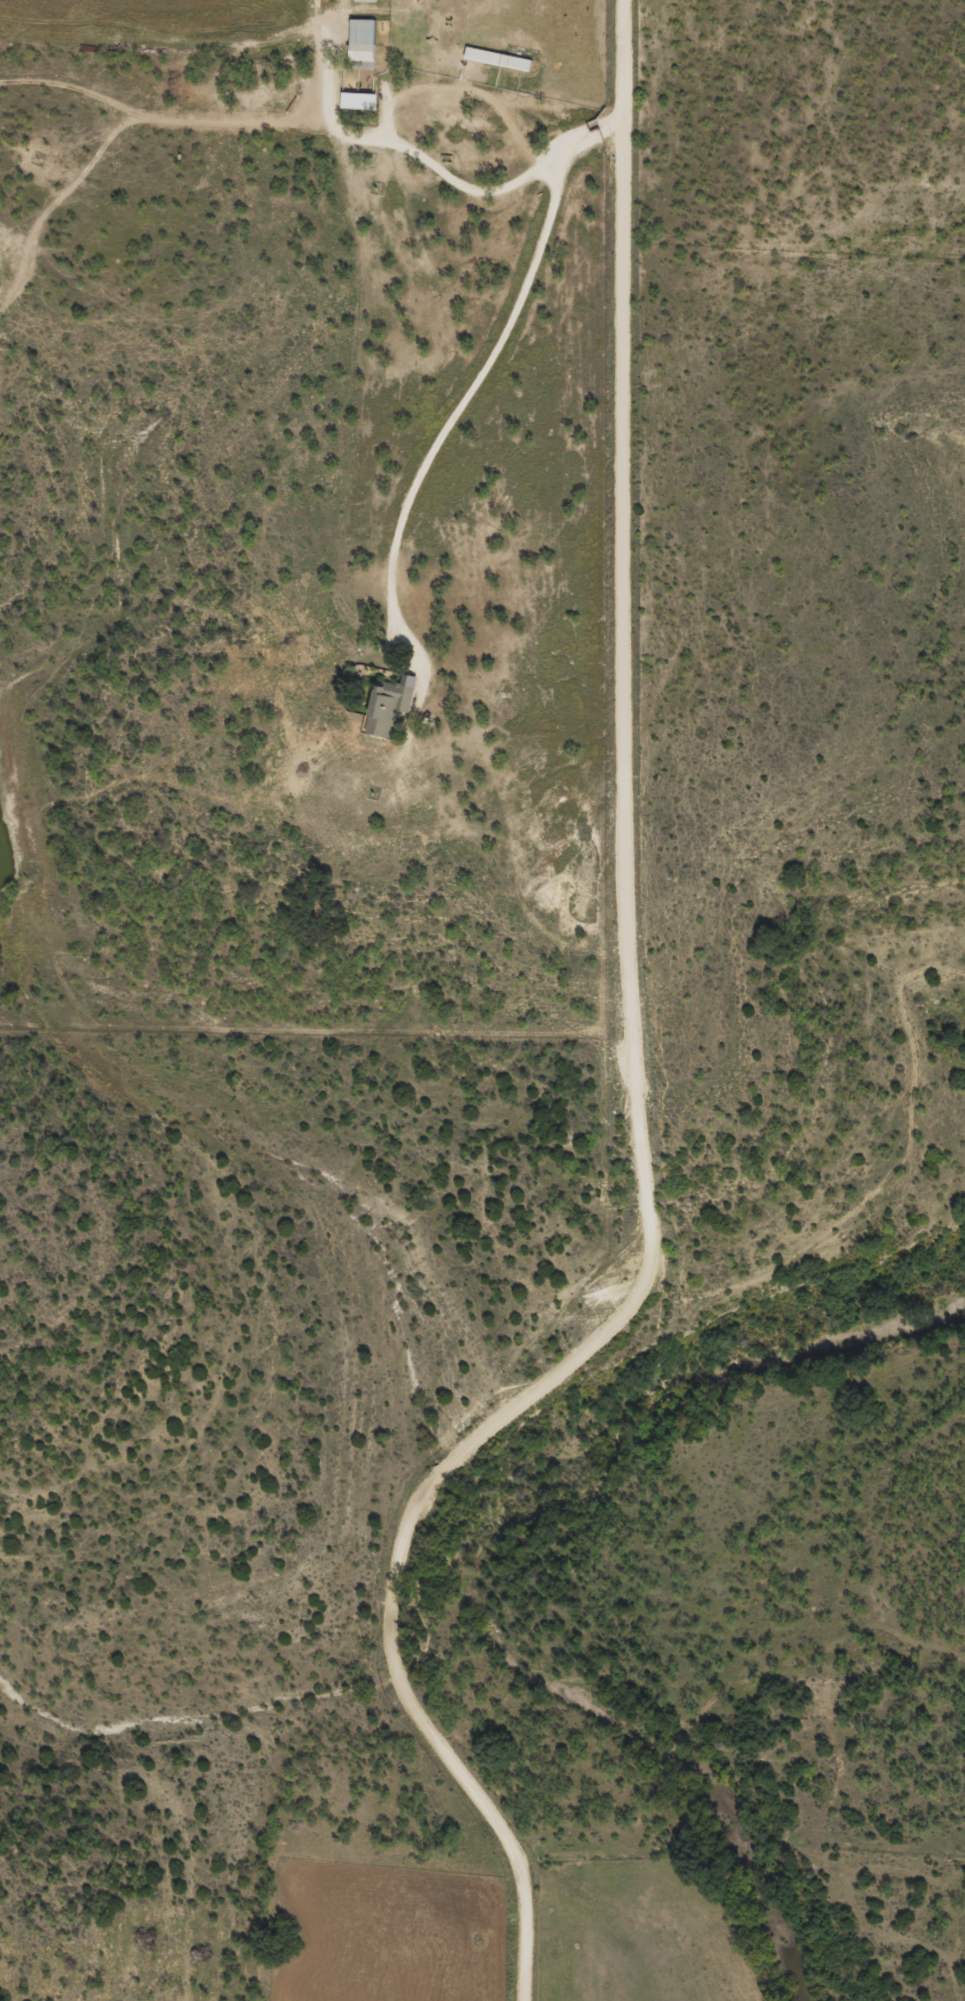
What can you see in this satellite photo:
building: (363, 5)
building: (366, 52)
building: (481, 64)
building: (519, 71)
building: (357, 109)
road: (225, 124)
building: (386, 712)
road: (634, 1072)

